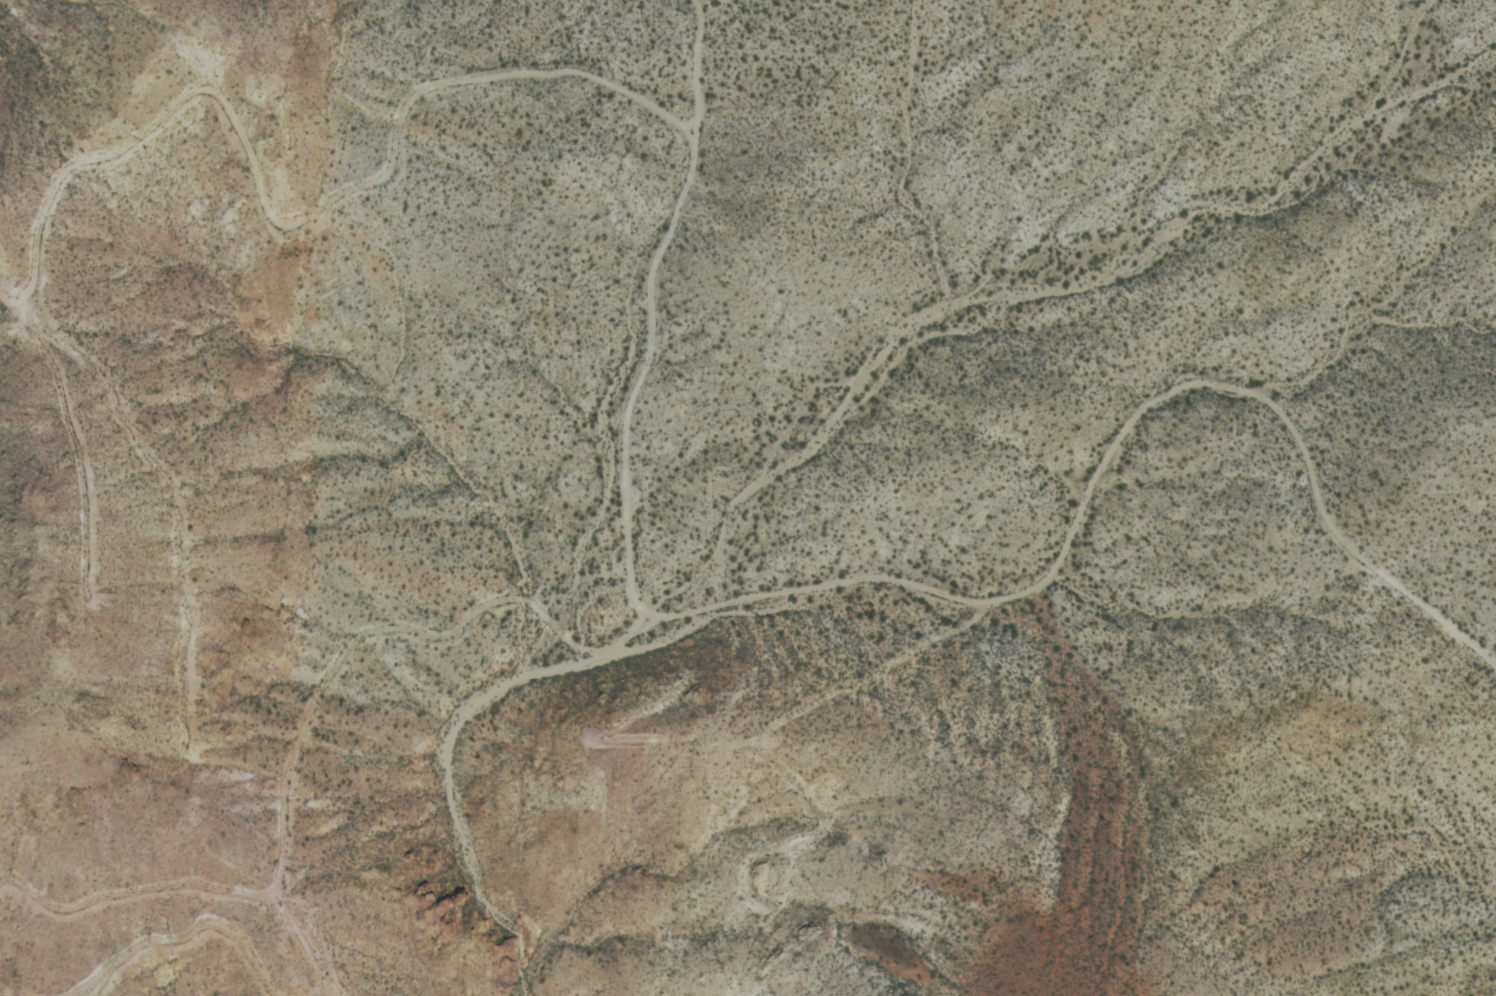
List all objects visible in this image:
road: (277, 240)
road: (653, 326)
road: (770, 622)
road: (793, 748)

